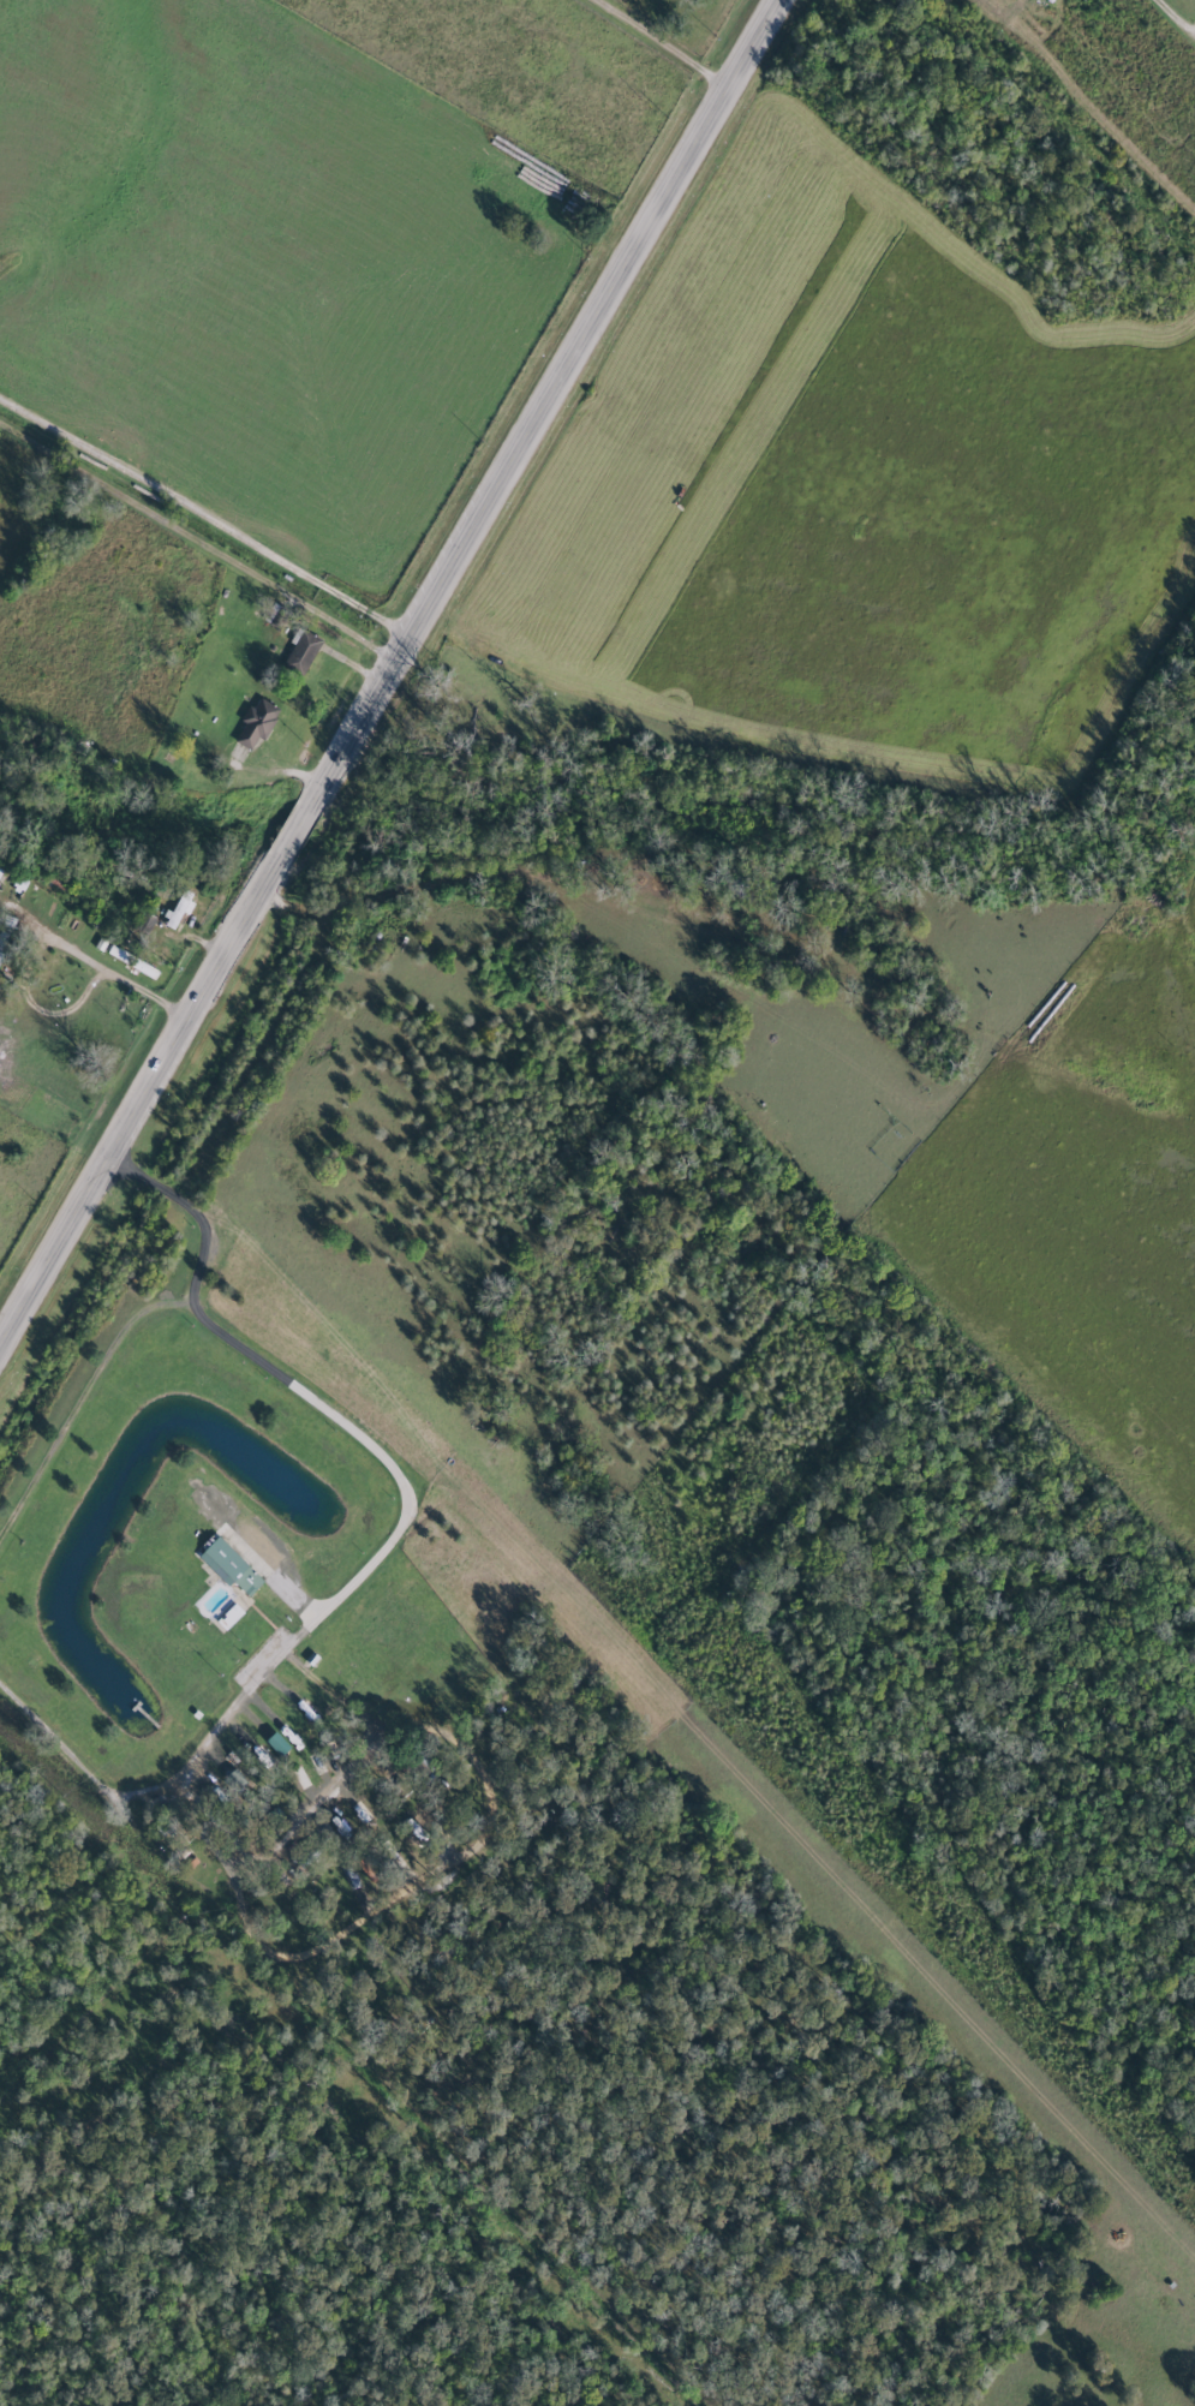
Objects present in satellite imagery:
road: (1182, 12)
road: (667, 44)
road: (205, 518)
building: (304, 651)
road: (389, 674)
building: (257, 722)
road: (542, 880)
building: (184, 906)
road: (46, 938)
road: (382, 1541)
building: (231, 1566)
building: (231, 1617)
building: (279, 1744)

